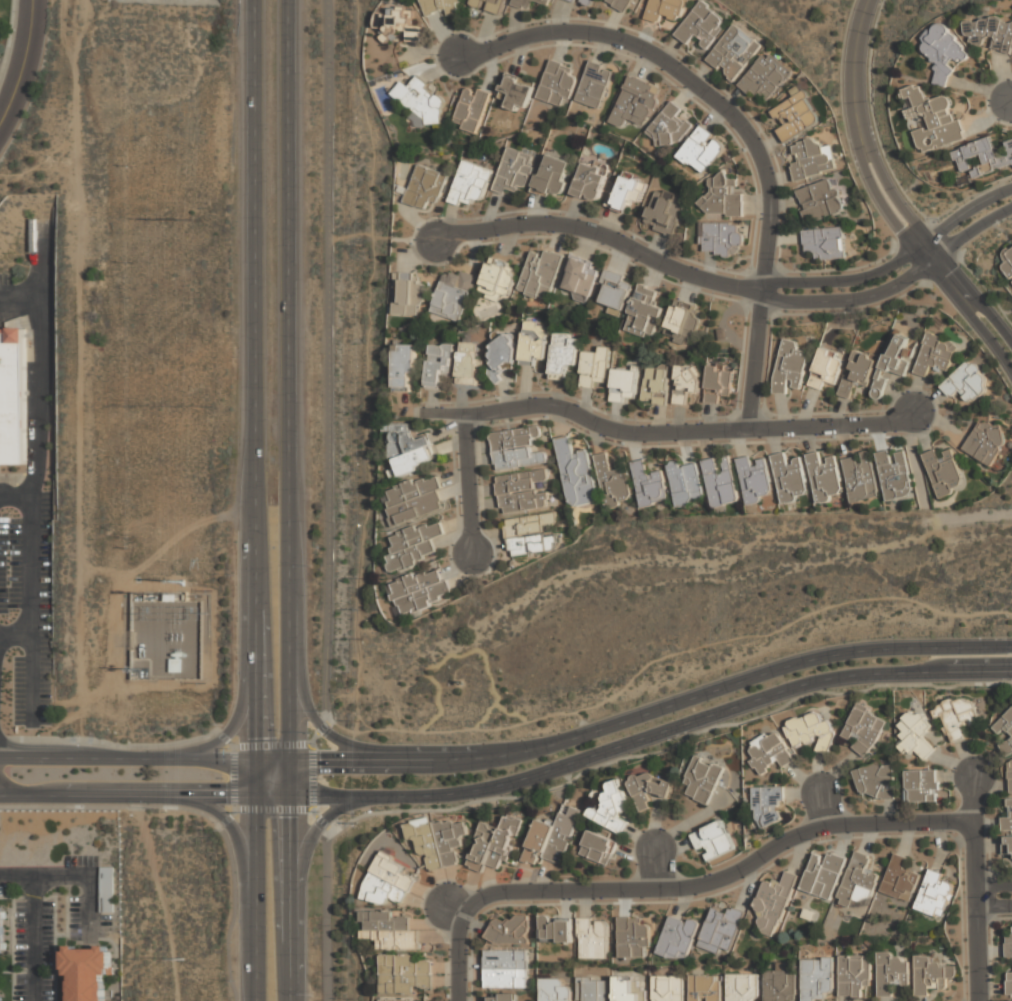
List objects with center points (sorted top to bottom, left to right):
building: (583, 2)
building: (529, 3)
building: (621, 4)
building: (489, 5)
building: (440, 7)
building: (665, 9)
building: (398, 22)
building: (702, 25)
building: (989, 32)
building: (944, 51)
building: (735, 52)
road: (22, 62)
building: (766, 77)
road: (852, 77)
building: (556, 84)
building: (594, 84)
building: (517, 91)
building: (636, 101)
building: (424, 103)
building: (471, 109)
building: (796, 115)
building: (934, 120)
road: (739, 126)
building: (669, 127)
building: (702, 150)
building: (981, 158)
building: (811, 159)
building: (514, 171)
building: (554, 176)
road: (896, 178)
building: (590, 182)
building: (470, 183)
building: (425, 186)
building: (628, 191)
building: (721, 196)
road: (894, 198)
building: (819, 199)
building: (665, 211)
road: (887, 212)
power tower: (195, 221)
power tower: (160, 222)
road: (370, 233)
road: (603, 237)
building: (721, 238)
building: (825, 242)
road: (933, 248)
road: (896, 262)
building: (1008, 263)
building: (541, 275)
building: (581, 277)
building: (498, 281)
parking lot: (6, 286)
road: (898, 286)
road: (20, 292)
building: (616, 292)
building: (407, 295)
building: (453, 295)
road: (976, 300)
building: (645, 311)
road: (971, 315)
road: (93, 319)
building: (683, 321)
building: (534, 342)
building: (504, 352)
building: (563, 354)
building: (936, 355)
road: (328, 360)
building: (893, 361)
building: (439, 363)
building: (468, 363)
building: (594, 364)
building: (789, 366)
building: (405, 367)
building: (826, 368)
road: (41, 372)
building: (858, 372)
building: (687, 382)
building: (718, 382)
building: (967, 382)
building: (656, 384)
building: (624, 385)
building: (11, 396)
road: (668, 433)
building: (985, 441)
building: (409, 448)
building: (516, 448)
road: (916, 464)
building: (945, 472)
building: (576, 473)
building: (895, 475)
building: (789, 477)
building: (860, 477)
building: (824, 478)
building: (754, 480)
road: (468, 481)
building: (613, 481)
building: (720, 481)
building: (685, 483)
building: (649, 484)
building: (522, 491)
road: (257, 500)
road: (290, 500)
building: (414, 500)
road: (927, 510)
road: (970, 518)
building: (530, 534)
building: (414, 545)
power tower: (184, 582)
building: (419, 591)
building: (170, 597)
road: (31, 606)
parking lot: (27, 612)
road: (14, 631)
power substation: (166, 635)
road: (906, 647)
building: (175, 665)
road: (269, 670)
road: (909, 671)
road: (313, 716)
building: (956, 716)
building: (864, 729)
road: (231, 730)
building: (1006, 732)
building: (811, 733)
building: (916, 735)
road: (224, 738)
traffic signals: (258, 738)
traffic signals: (272, 738)
road: (552, 744)
road: (670, 745)
building: (770, 751)
road: (144, 757)
road: (312, 763)
traffic signals: (320, 763)
road: (553, 768)
building: (1010, 775)
road: (233, 777)
building: (703, 779)
building: (875, 780)
building: (923, 786)
building: (647, 789)
road: (144, 793)
traffic signals: (226, 794)
road: (975, 797)
building: (768, 805)
road: (822, 806)
building: (612, 809)
traffic signals: (273, 817)
traffic signals: (289, 817)
road: (228, 818)
building: (1007, 818)
road: (322, 822)
road: (235, 836)
building: (550, 838)
building: (439, 841)
building: (713, 841)
building: (494, 843)
building: (1007, 846)
building: (598, 847)
road: (656, 871)
road: (275, 872)
building: (823, 874)
road: (301, 878)
building: (900, 880)
building: (858, 881)
building: (387, 882)
road: (709, 882)
building: (934, 894)
road: (994, 897)
building: (774, 901)
road: (977, 911)
road: (326, 914)
road: (34, 919)
building: (722, 927)
building: (556, 929)
building: (2, 930)
building: (389, 930)
building: (509, 930)
building: (592, 937)
building: (633, 937)
building: (679, 937)
building: (1008, 945)
power tower: (176, 952)
road: (458, 956)
building: (507, 969)
building: (86, 971)
building: (891, 972)
building: (403, 974)
building: (854, 974)
building: (932, 975)
building: (817, 977)
building: (780, 983)
building: (1009, 983)
building: (743, 987)
building: (667, 988)
building: (705, 988)
building: (593, 989)
building: (629, 989)
building: (553, 990)
building: (2, 996)
building: (501, 997)
building: (396, 999)
building: (1009, 1000)

